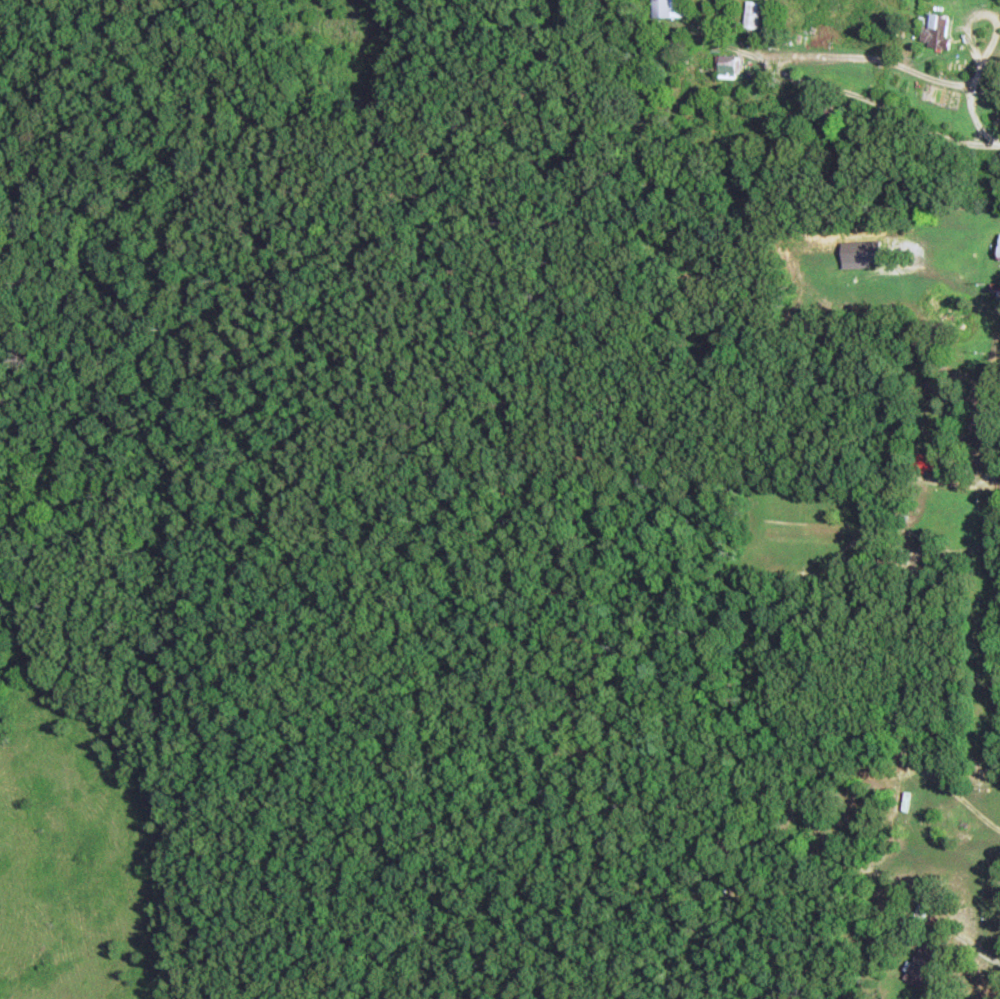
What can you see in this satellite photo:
building: (662, 10)
building: (746, 18)
building: (930, 34)
building: (722, 70)
building: (995, 253)
building: (995, 296)
building: (921, 464)
road: (857, 470)
building: (902, 813)
building: (916, 915)
building: (917, 966)

